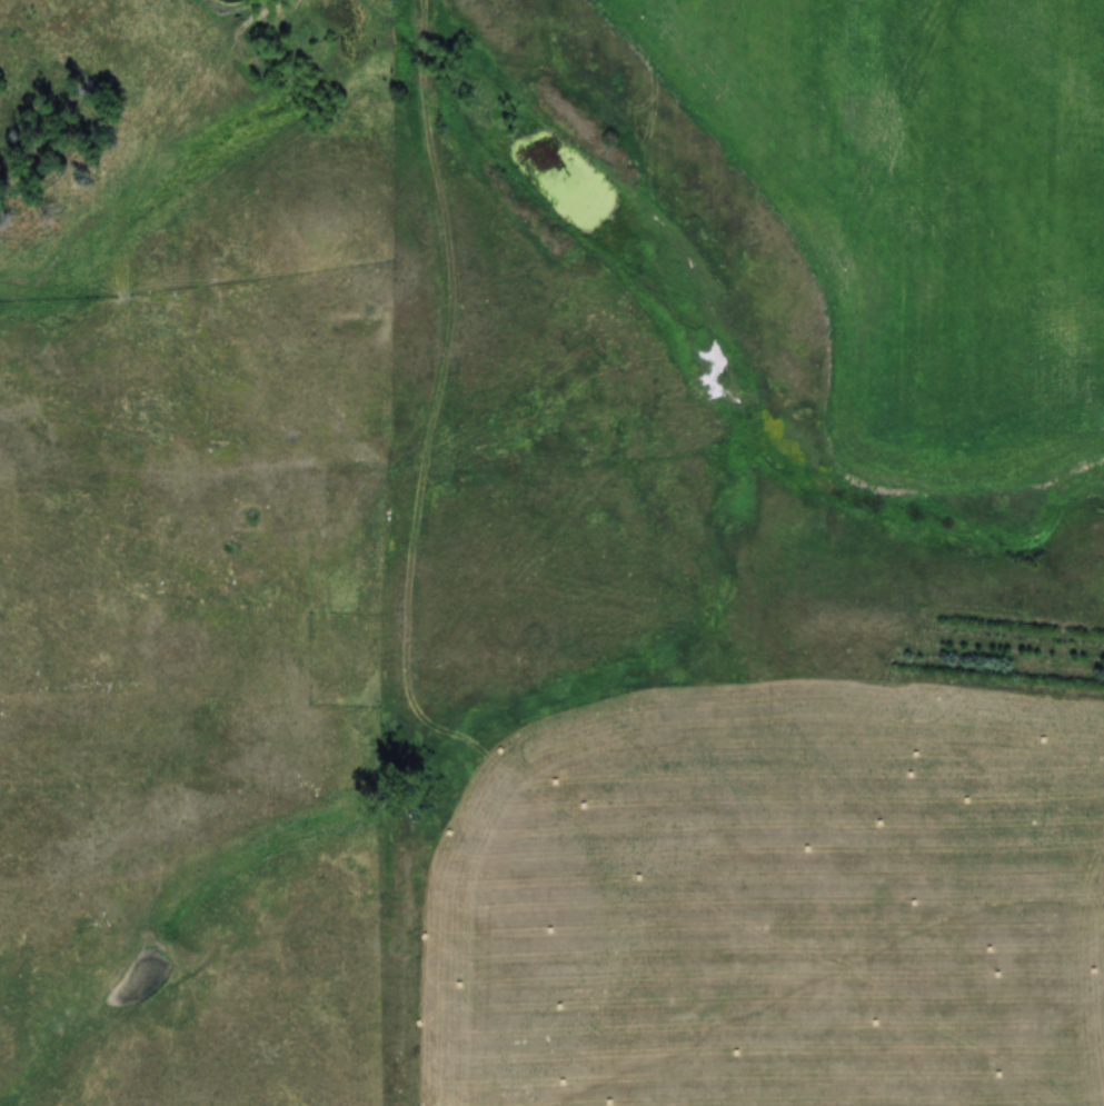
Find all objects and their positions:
road: (430, 552)

